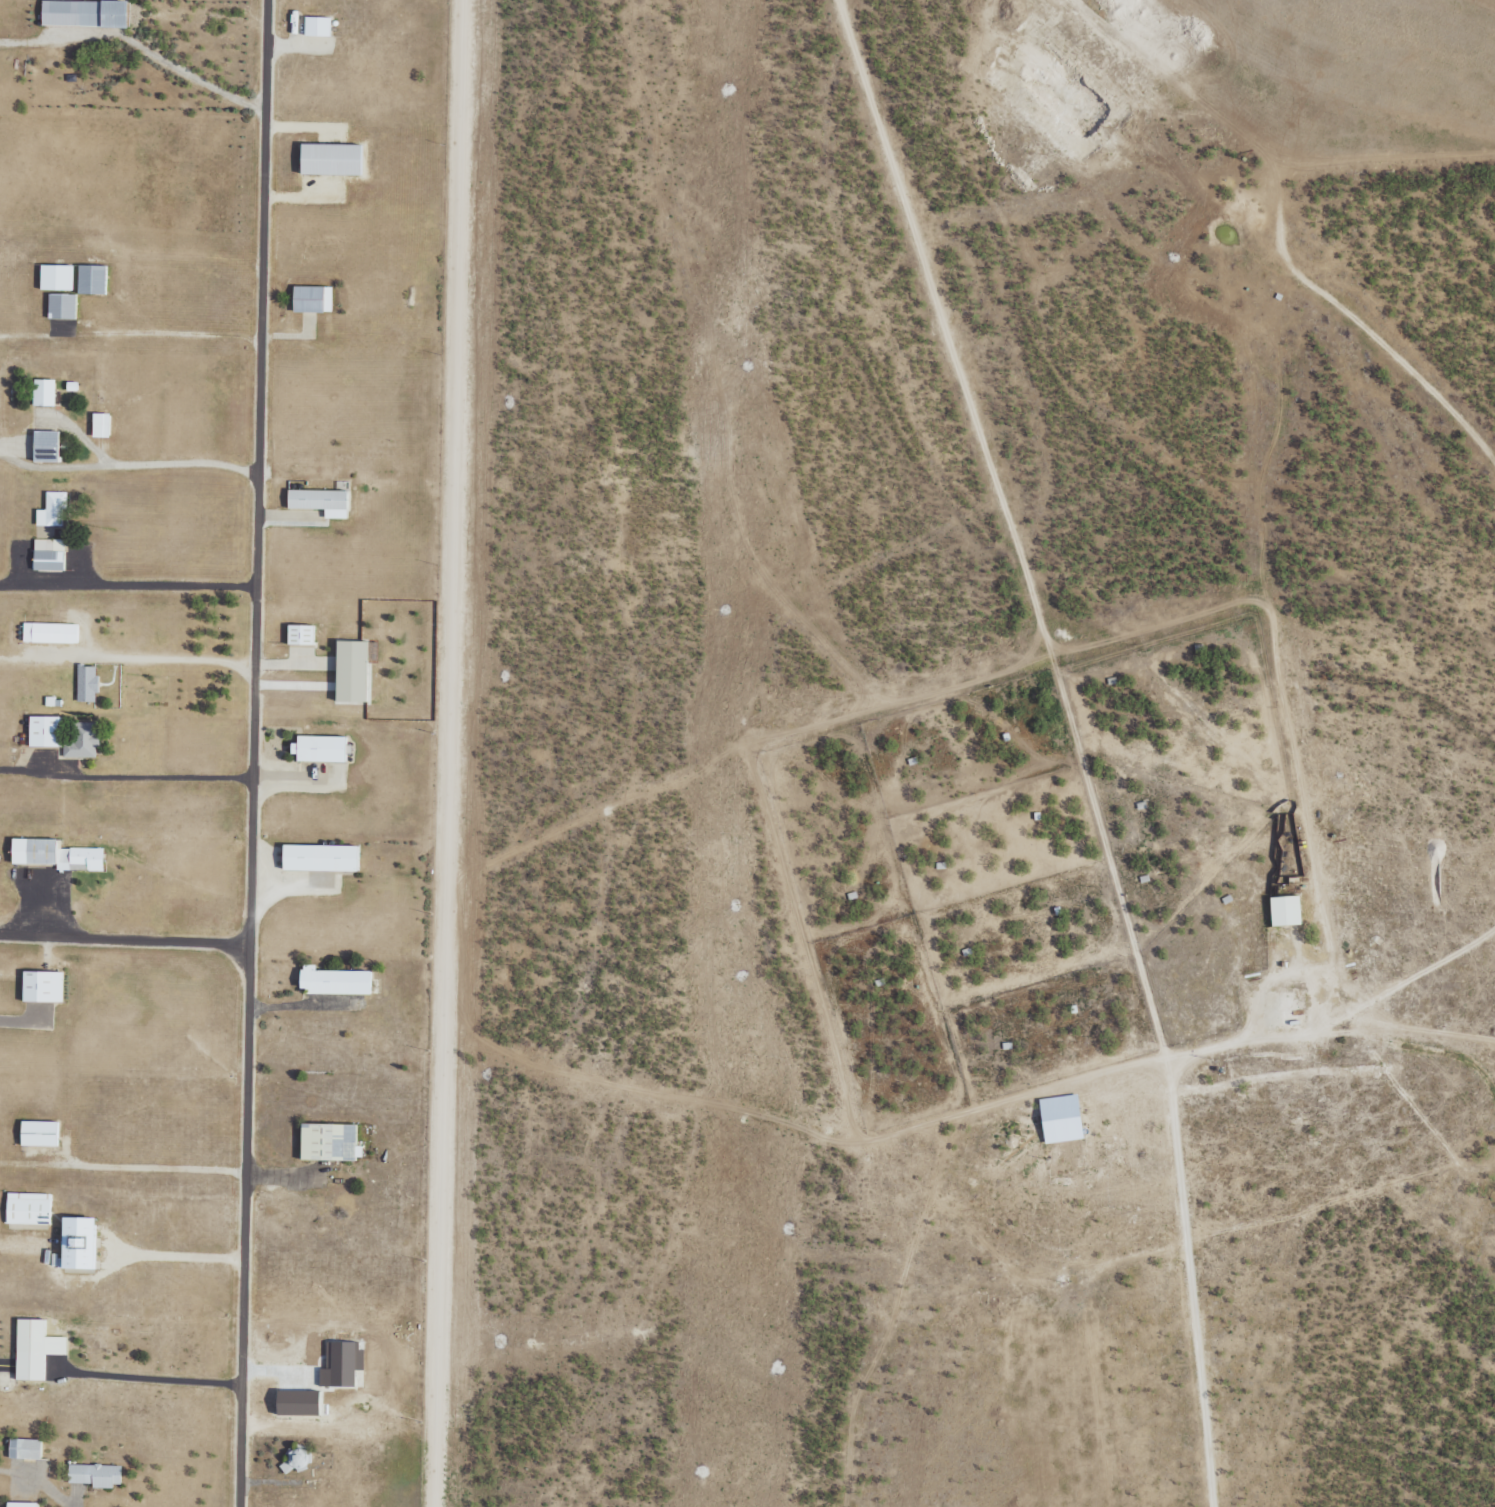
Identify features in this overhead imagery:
airport hangar: (87, 13)
building: (87, 13)
airport hangar: (319, 28)
building: (319, 28)
airport hangar: (336, 159)
building: (336, 159)
road: (131, 223)
airport hangar: (58, 276)
building: (58, 276)
airport hangar: (94, 280)
building: (94, 280)
airport hangar: (312, 298)
building: (312, 298)
airport hangar: (63, 307)
building: (63, 307)
road: (345, 333)
building: (43, 392)
building: (101, 424)
building: (45, 446)
building: (319, 501)
building: (52, 510)
building: (48, 554)
road: (127, 585)
building: (50, 632)
building: (300, 634)
building: (351, 671)
building: (86, 683)
building: (64, 737)
airport: (217, 745)
building: (319, 748)
road: (250, 753)
building: (55, 855)
airport hangar: (323, 857)
building: (323, 857)
building: (1285, 911)
road: (123, 940)
building: (334, 981)
building: (42, 987)
road: (334, 1102)
building: (1061, 1119)
building: (39, 1133)
building: (329, 1143)
road: (1199, 1143)
building: (28, 1209)
building: (78, 1244)
airport hangar: (36, 1348)
building: (36, 1348)
building: (341, 1364)
building: (298, 1402)
building: (24, 1448)
building: (95, 1475)
building: (21, 1504)

